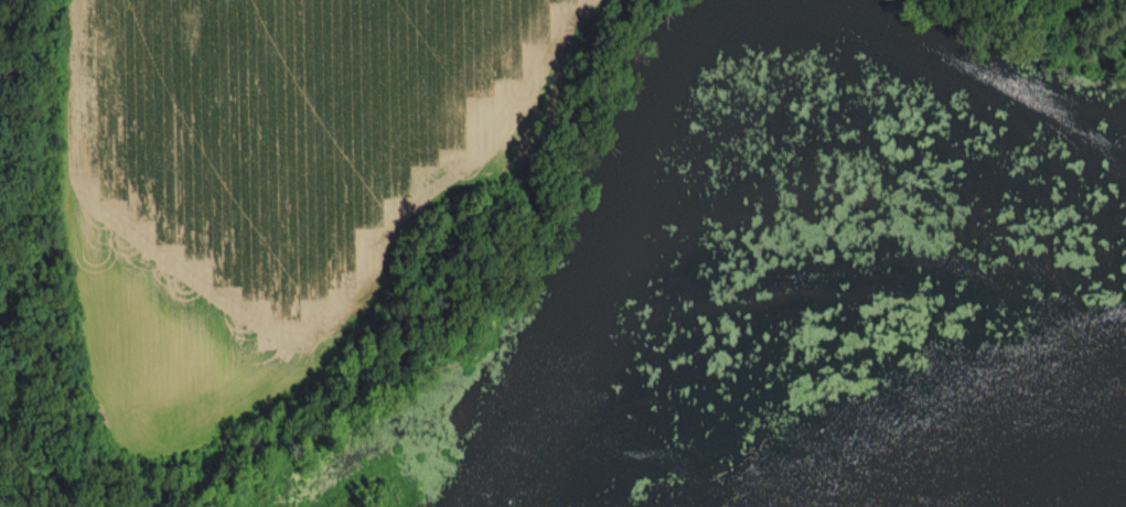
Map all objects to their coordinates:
river: (951, 430)

